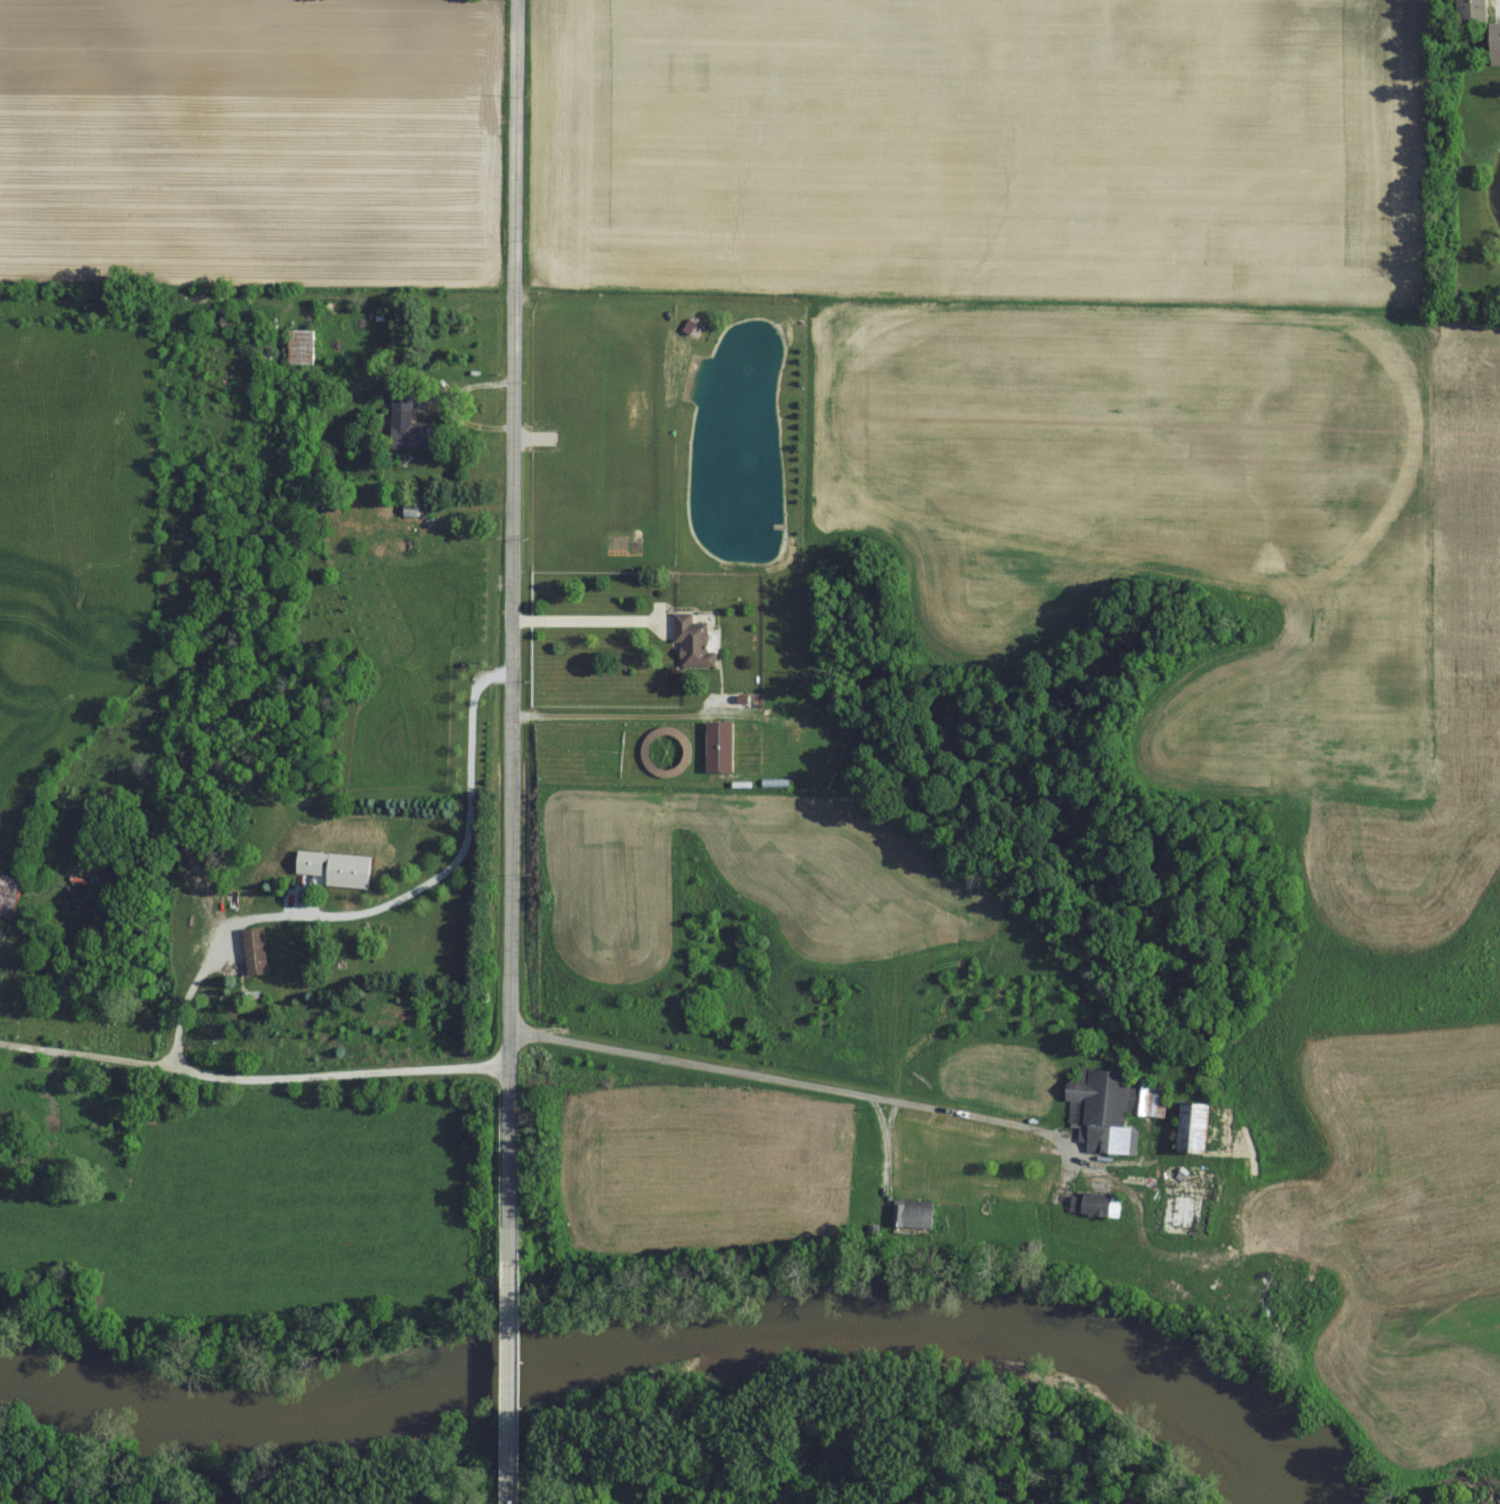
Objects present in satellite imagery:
building: (1491, 41)
building: (304, 346)
building: (416, 435)
building: (429, 525)
road: (582, 619)
road: (508, 632)
building: (689, 641)
road: (602, 716)
building: (717, 743)
building: (299, 873)
building: (8, 905)
road: (222, 937)
building: (257, 951)
road: (89, 1055)
road: (795, 1083)
building: (1130, 1094)
building: (1099, 1111)
building: (1185, 1129)
building: (1400, 1204)
building: (1178, 1213)
river: (679, 1328)
road: (506, 1355)
road: (506, 1474)

